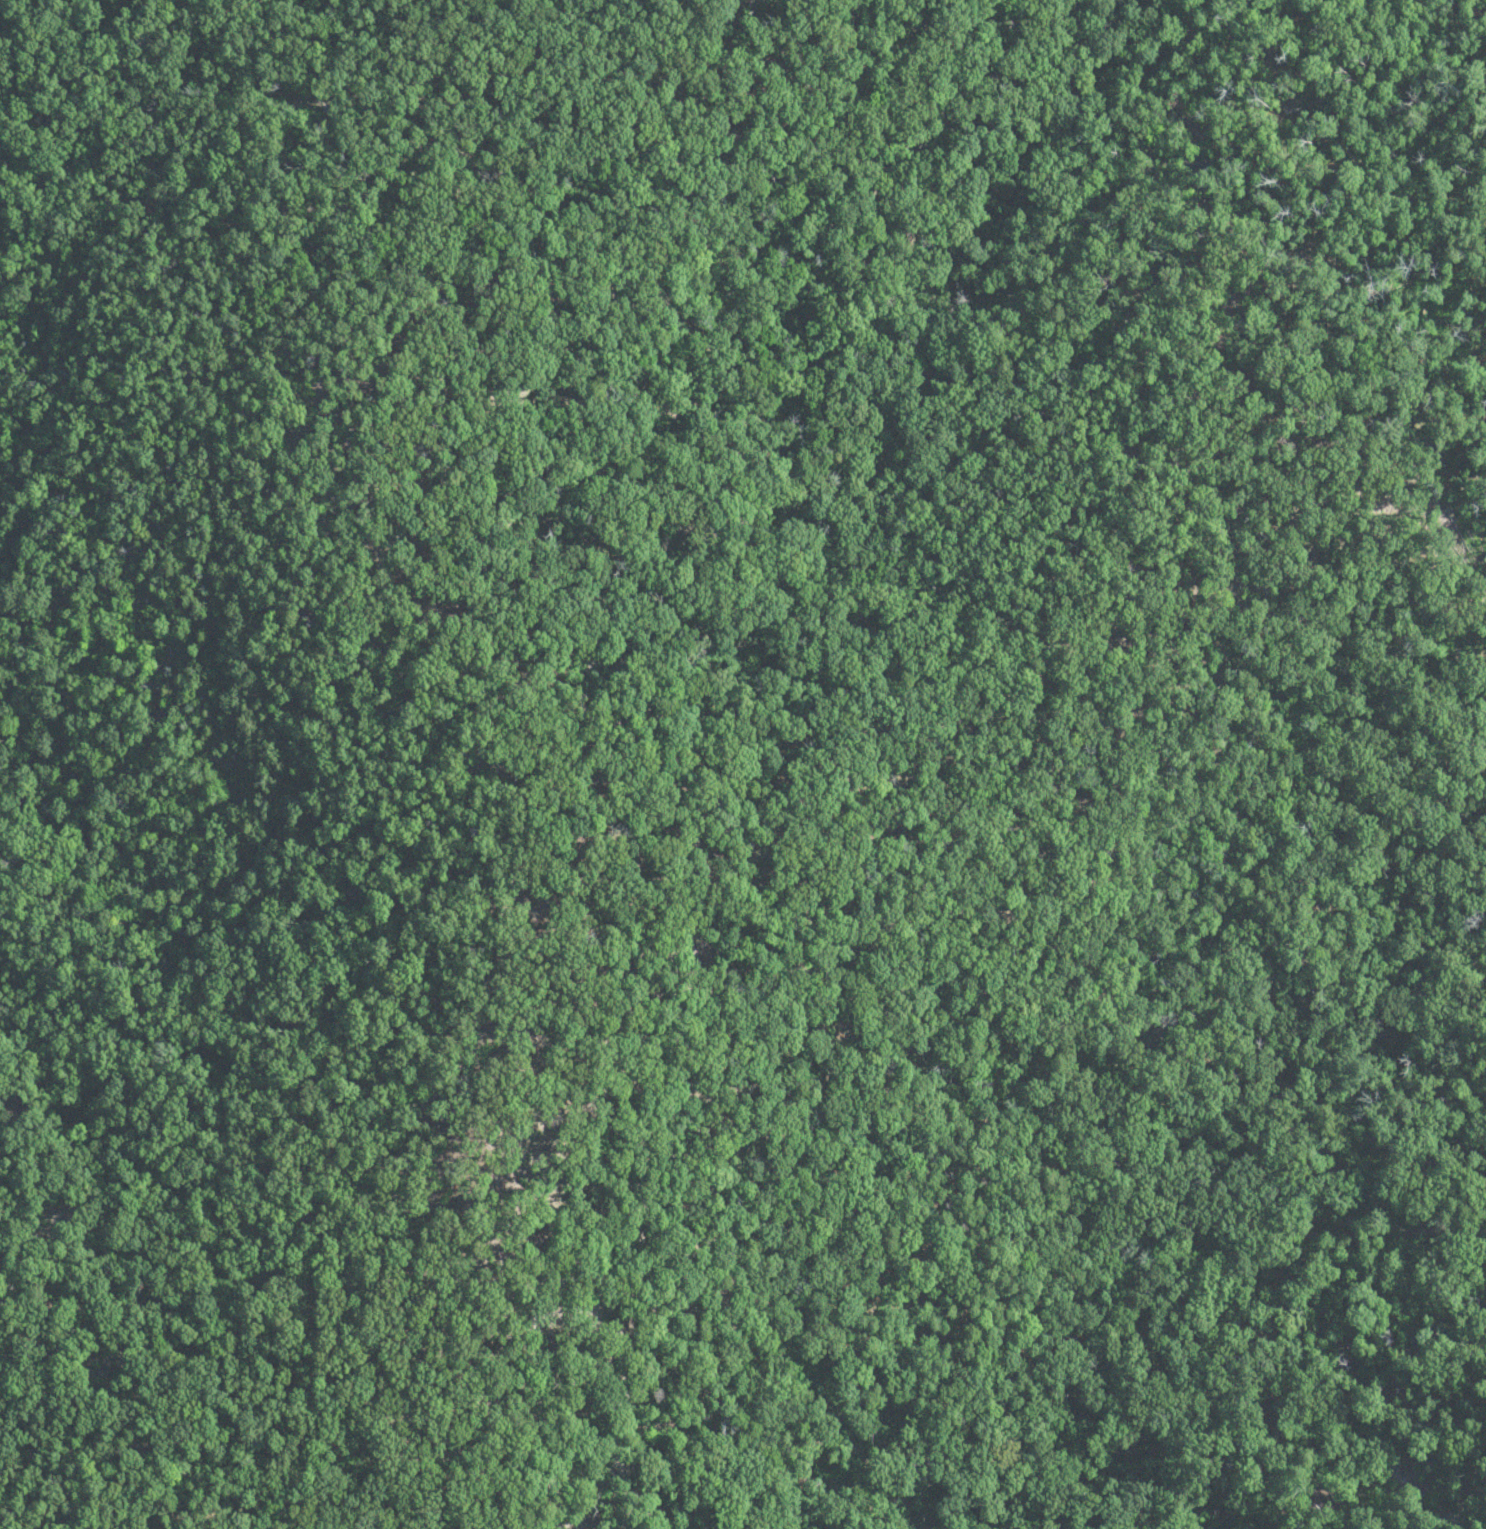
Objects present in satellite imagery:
park: (668, 1353)
road: (359, 1499)

